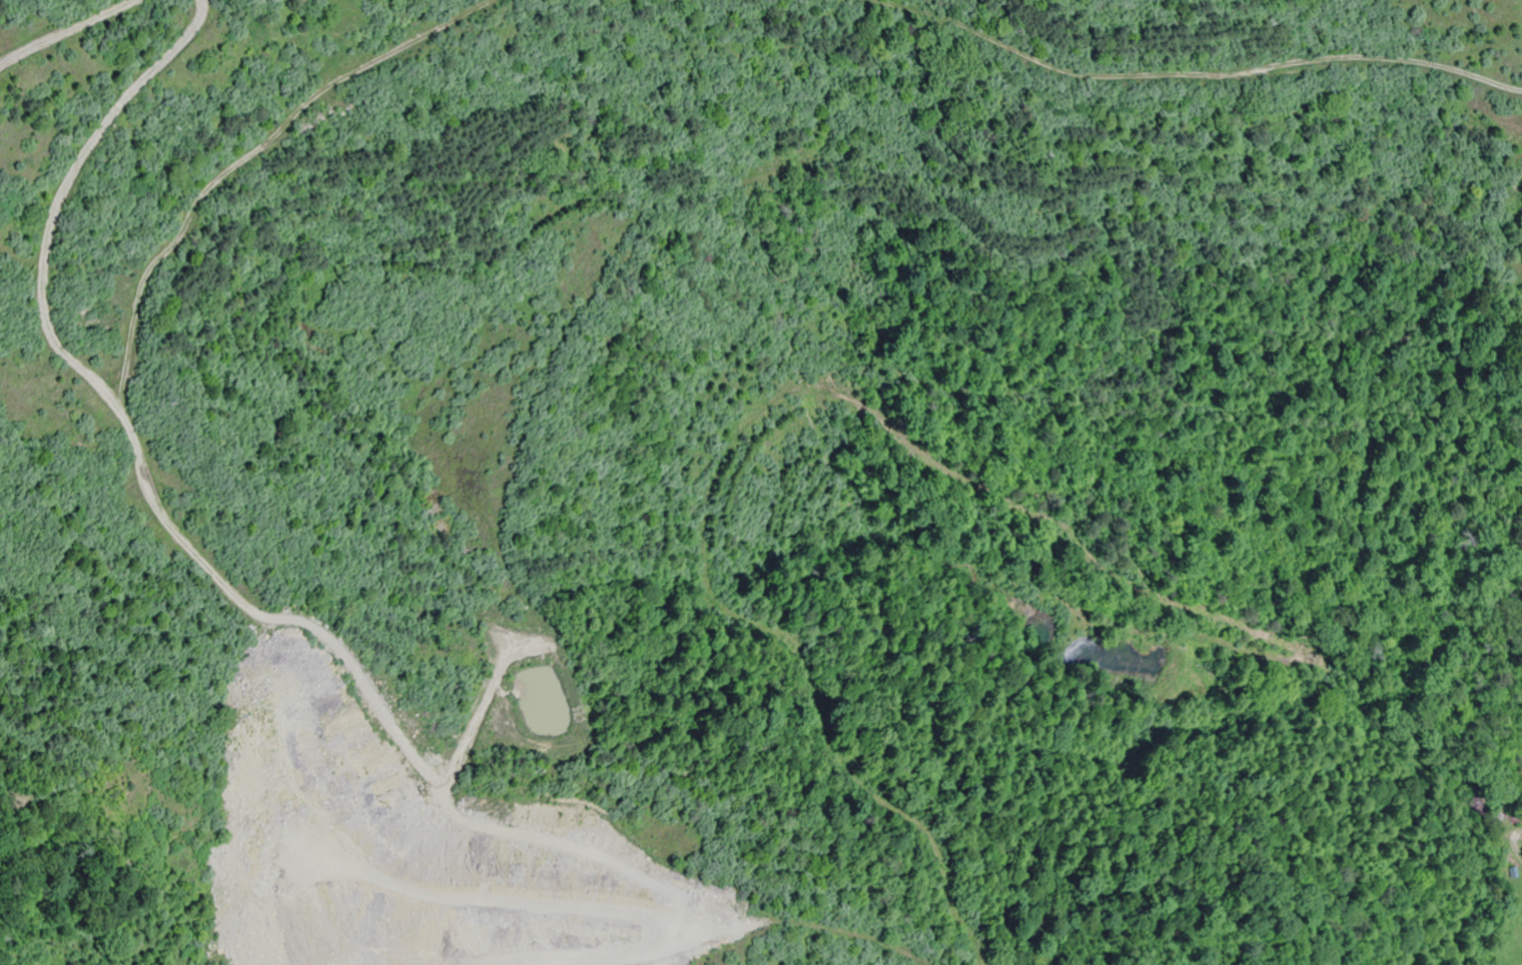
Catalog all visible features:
building: (1521, 851)
building: (1515, 950)

